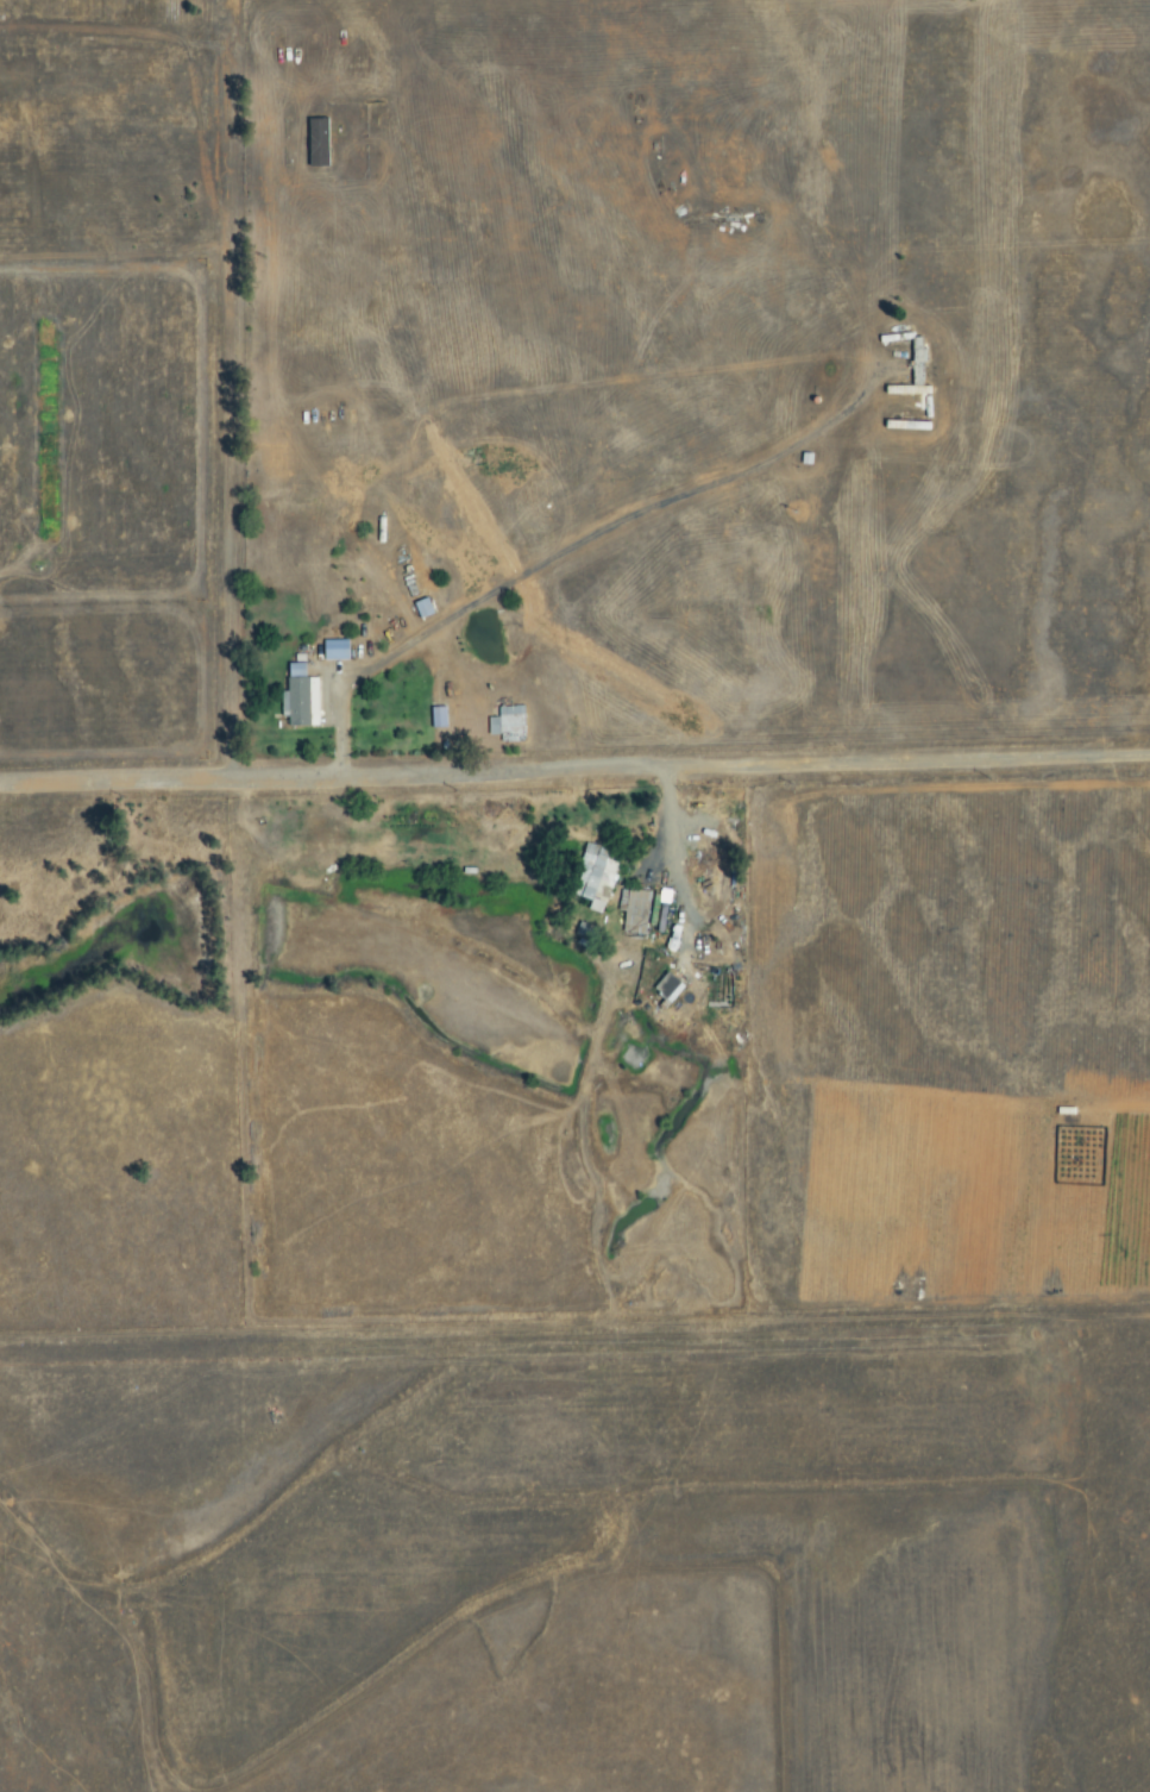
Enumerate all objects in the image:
building: (316, 143)
building: (916, 365)
road: (230, 545)
building: (333, 650)
building: (299, 698)
building: (436, 718)
building: (505, 721)
road: (810, 763)
road: (234, 778)
building: (593, 877)
building: (633, 911)
building: (585, 931)
building: (667, 989)

